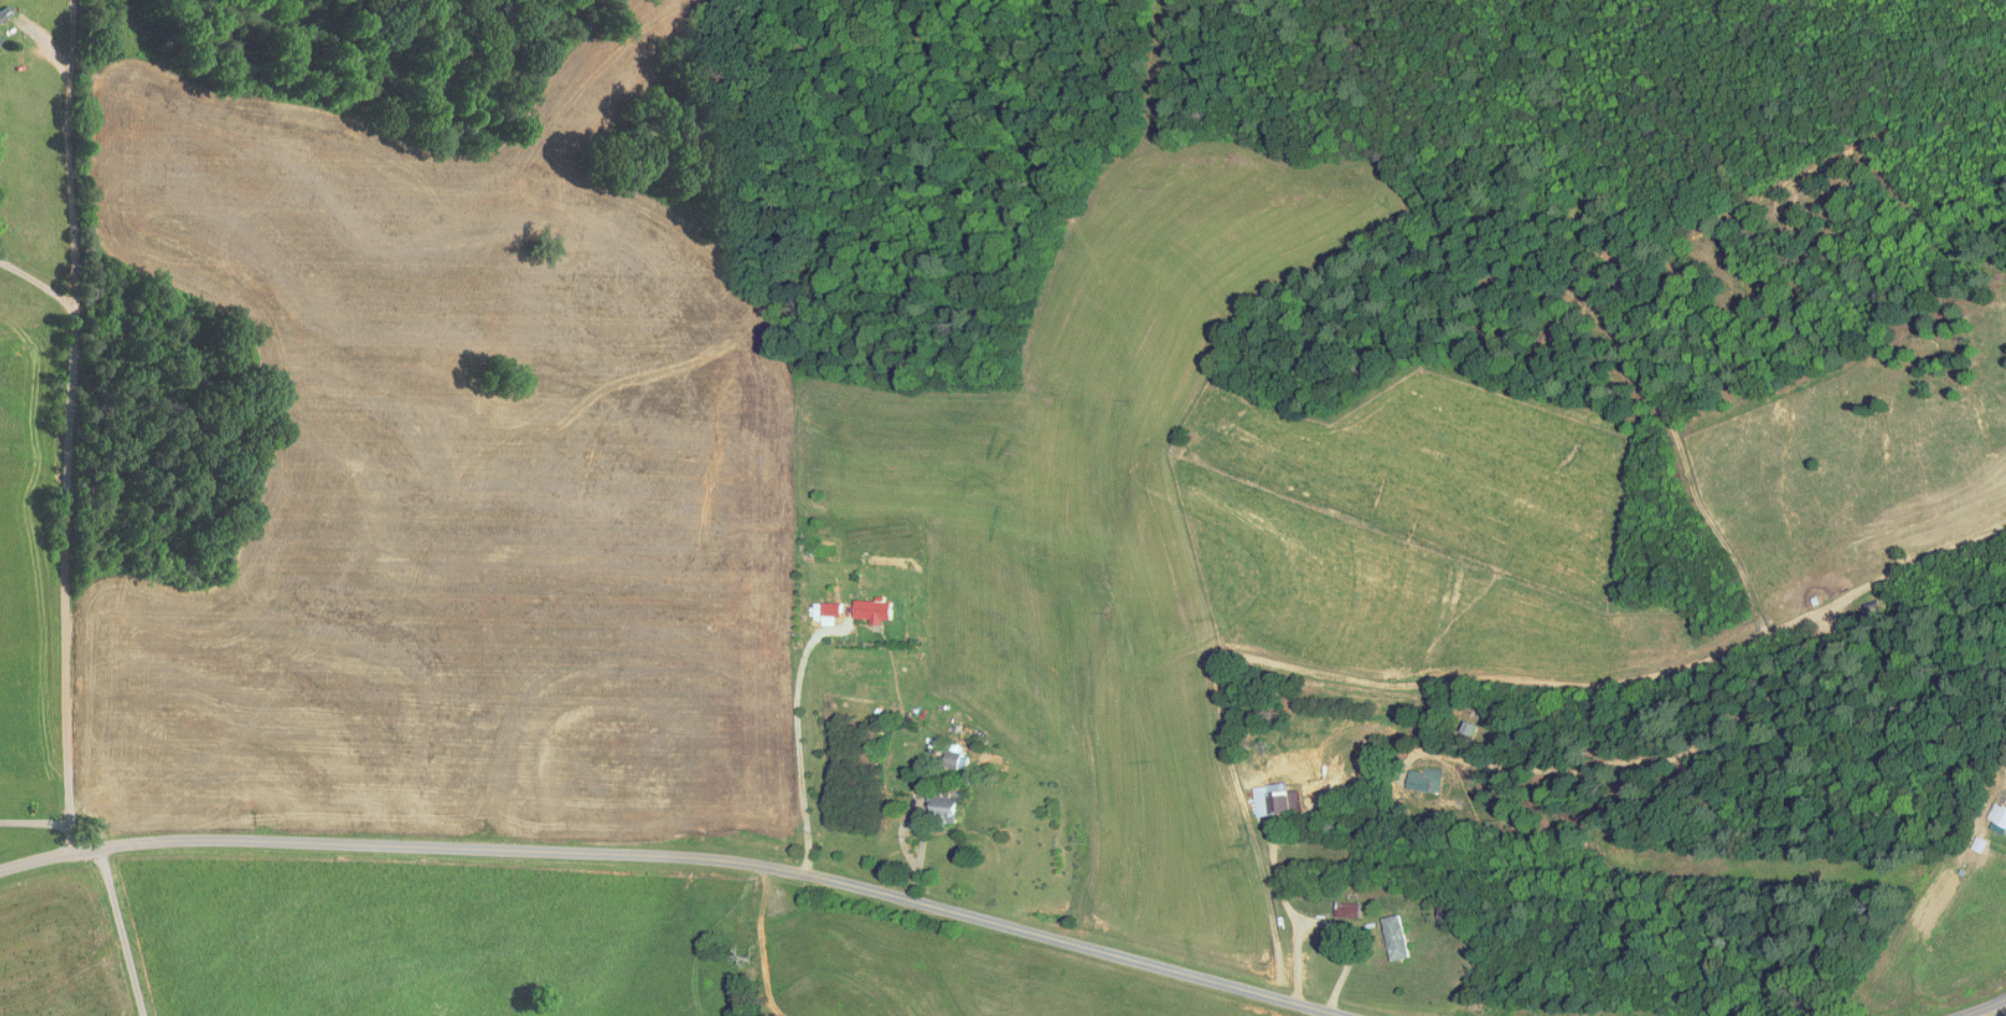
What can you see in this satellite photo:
building: (5, 12)
road: (34, 285)
road: (67, 431)
building: (874, 610)
building: (831, 612)
road: (797, 737)
building: (956, 756)
building: (1424, 780)
building: (1272, 799)
building: (946, 809)
road: (36, 820)
road: (924, 827)
road: (683, 856)
building: (1348, 909)
road: (1328, 923)
building: (1396, 936)
road: (130, 937)
road: (750, 939)
road: (1979, 1008)
road: (1995, 1010)
road: (1995, 1013)

